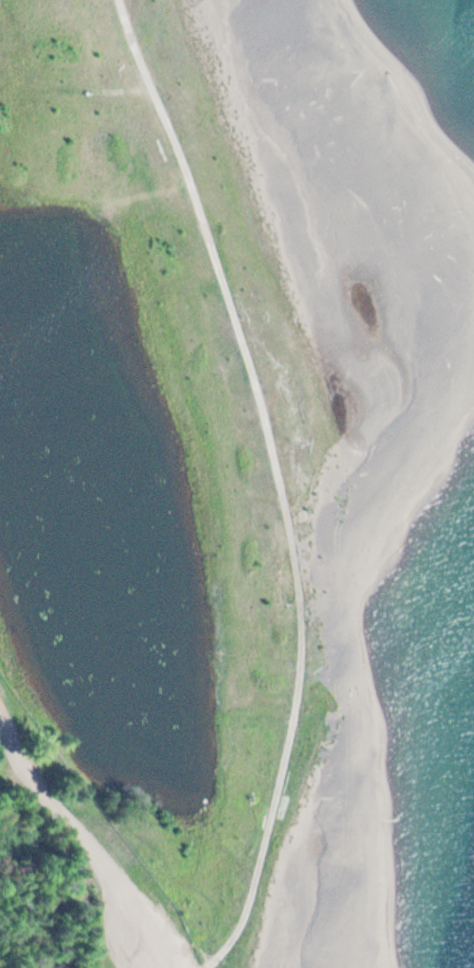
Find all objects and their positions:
road: (86, 841)

